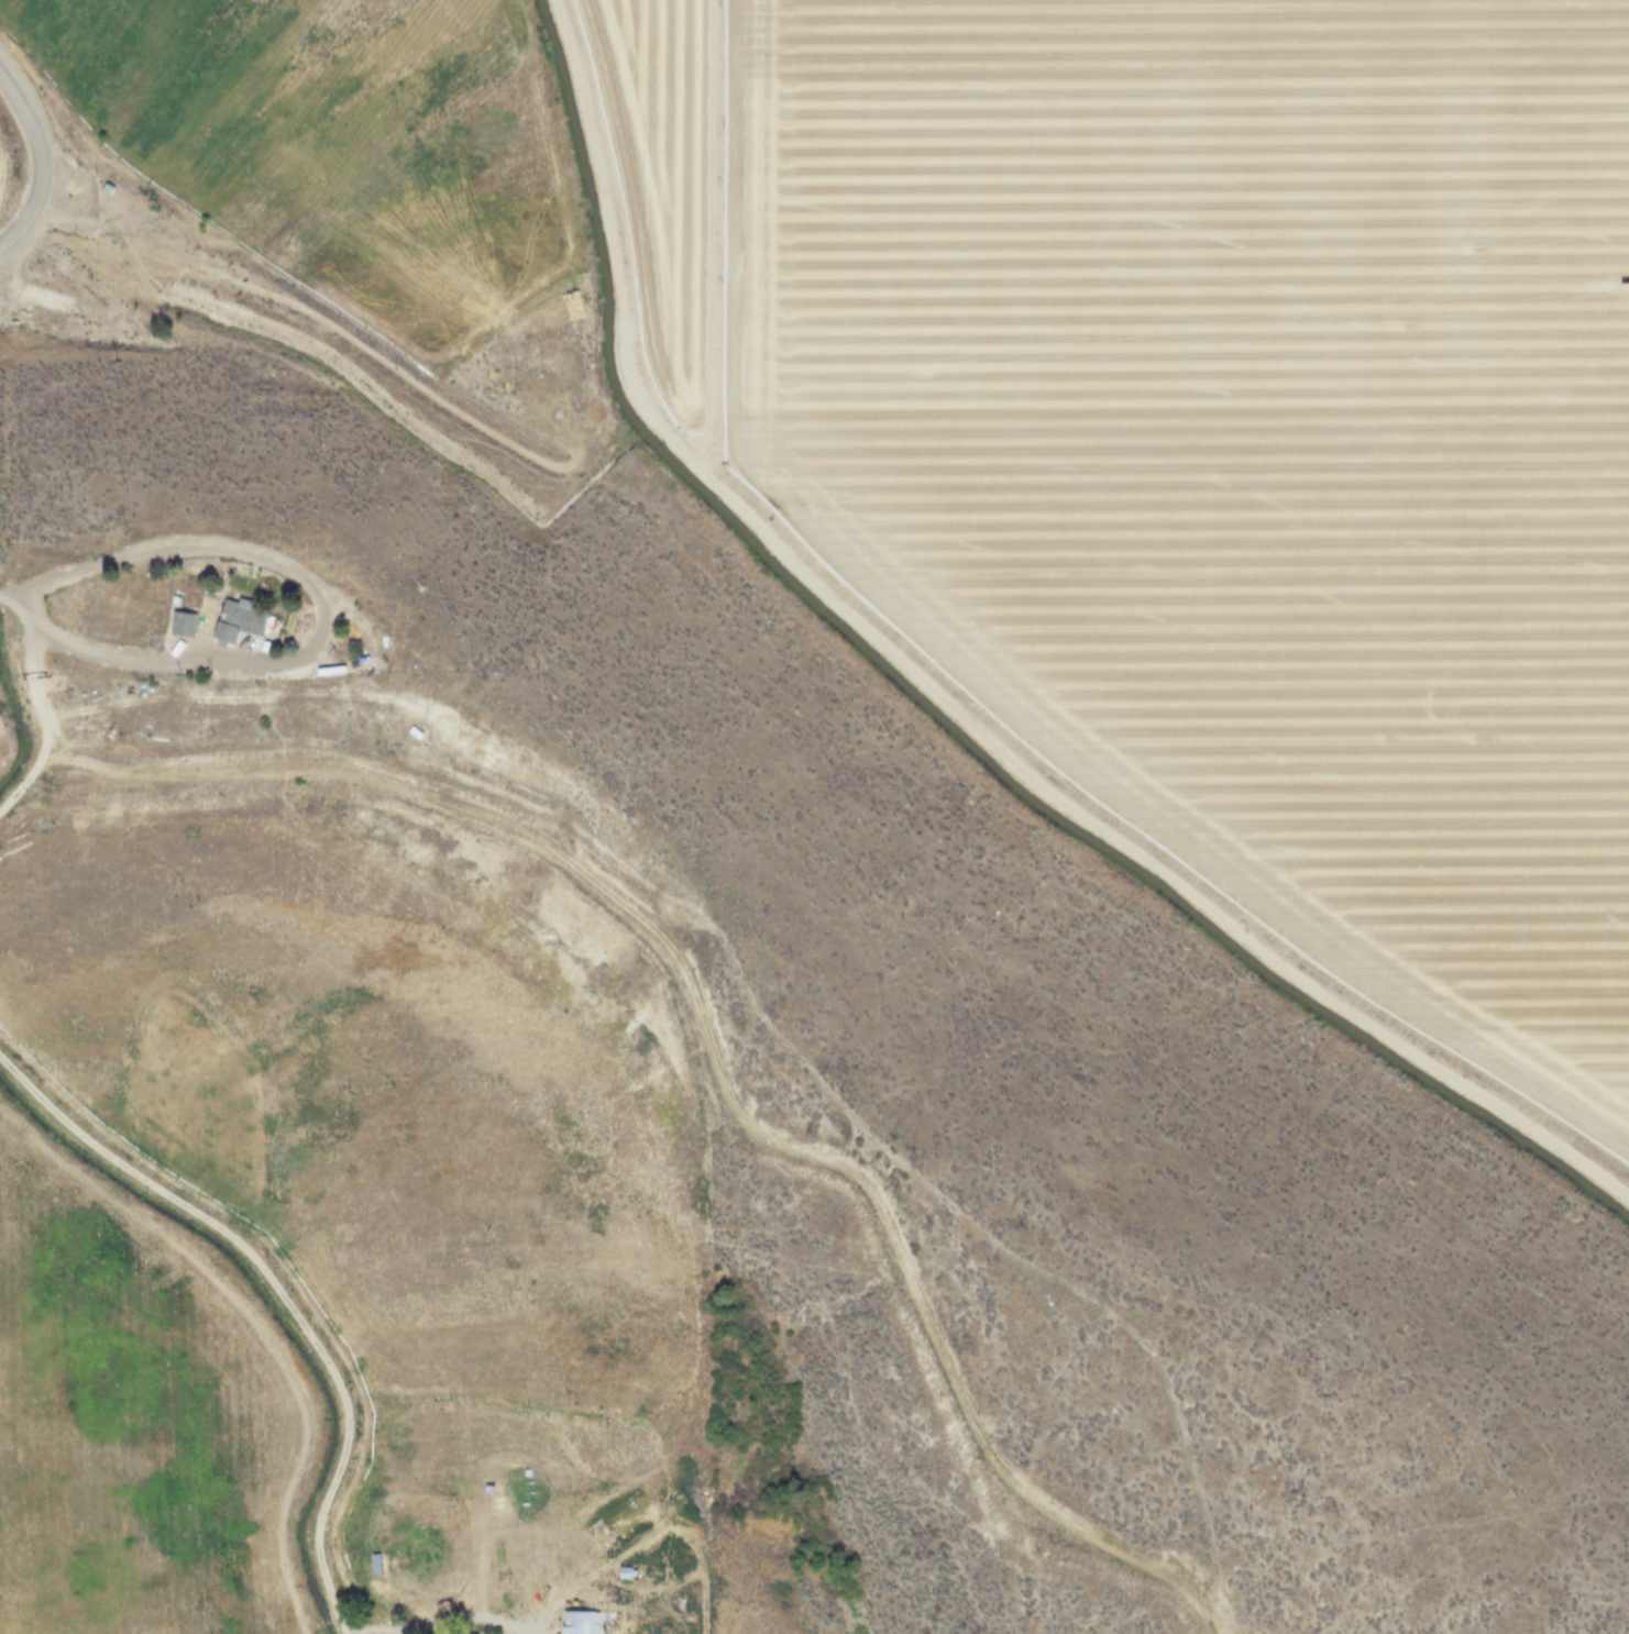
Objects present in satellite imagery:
road: (40, 162)
building: (45, 300)
road: (315, 605)
building: (234, 618)
building: (180, 622)
road: (37, 702)
road: (277, 1289)
road: (434, 1621)
building: (579, 1621)
building: (462, 1633)

